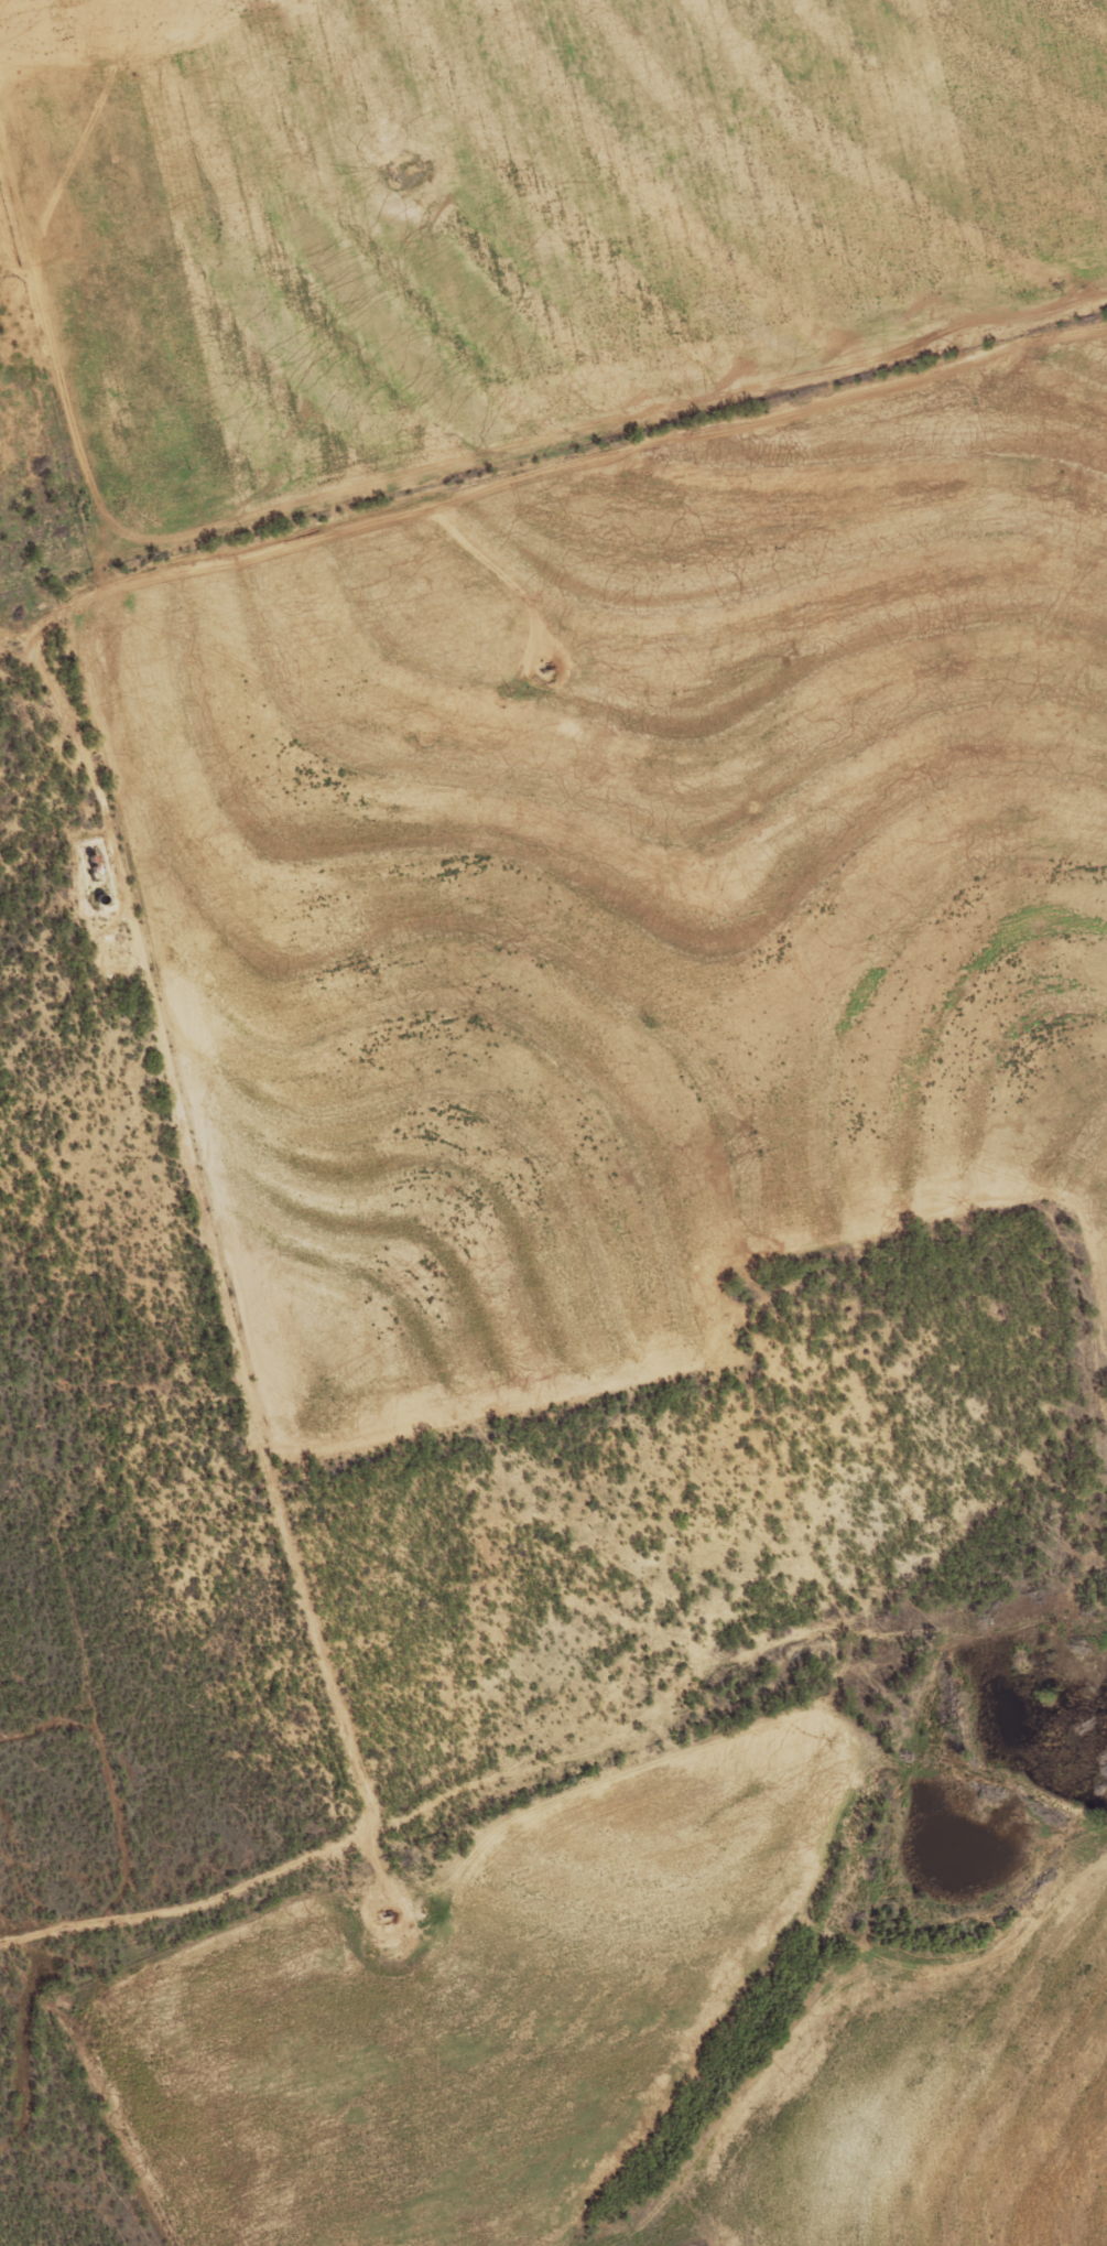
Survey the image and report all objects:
road: (522, 415)
road: (76, 1645)
road: (594, 1687)

